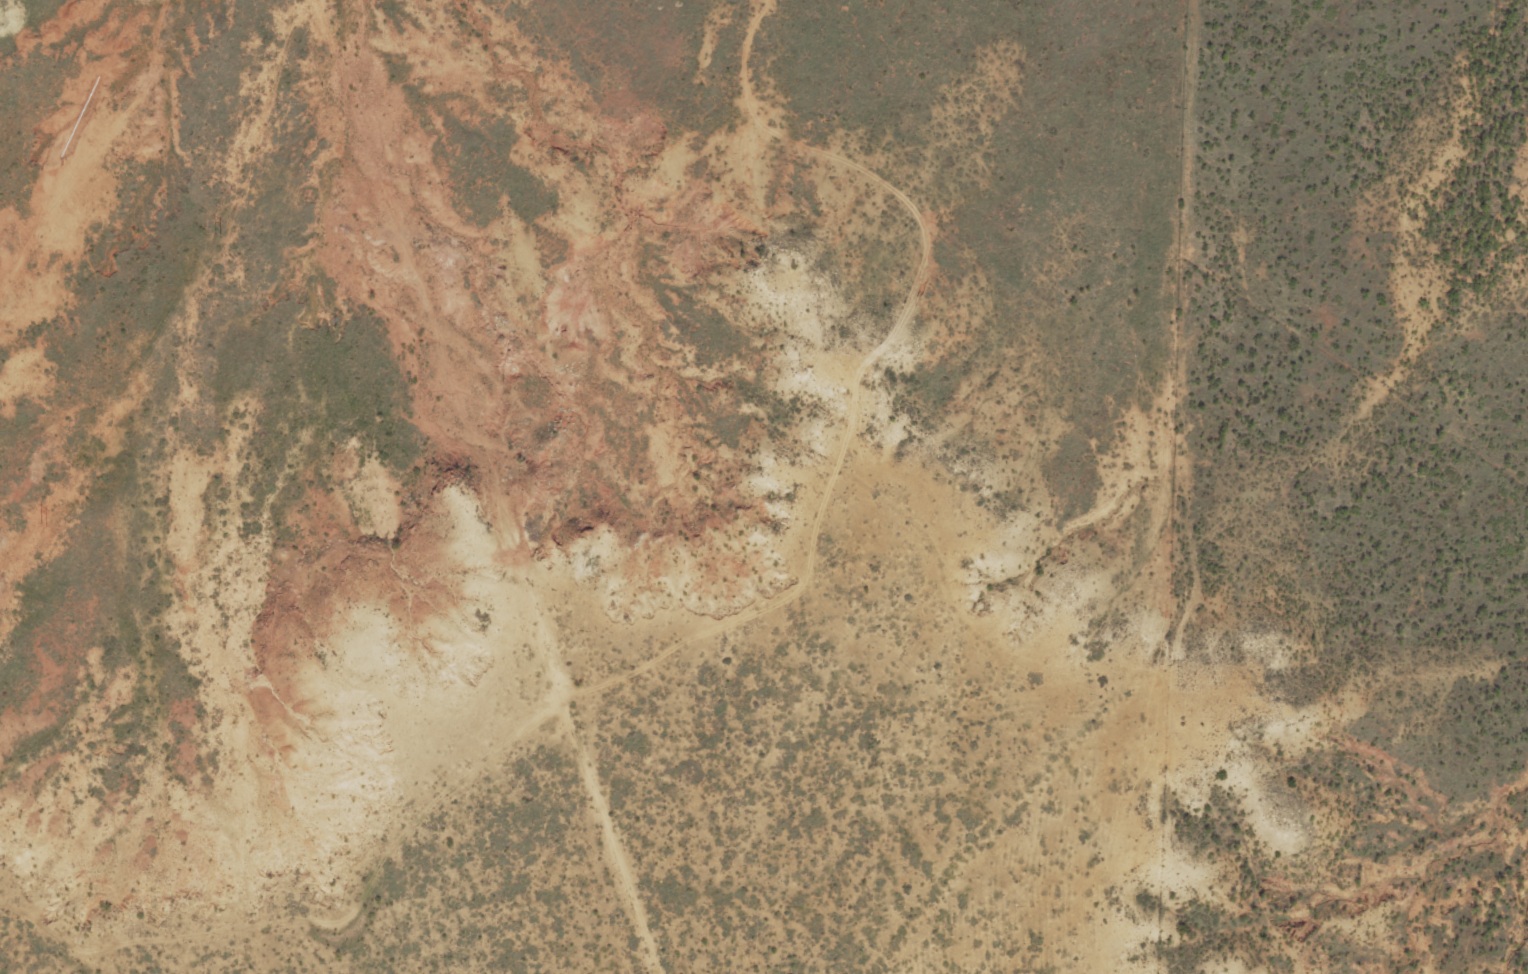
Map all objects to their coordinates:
power tower: (214, 235)
power tower: (41, 524)
road: (88, 971)

